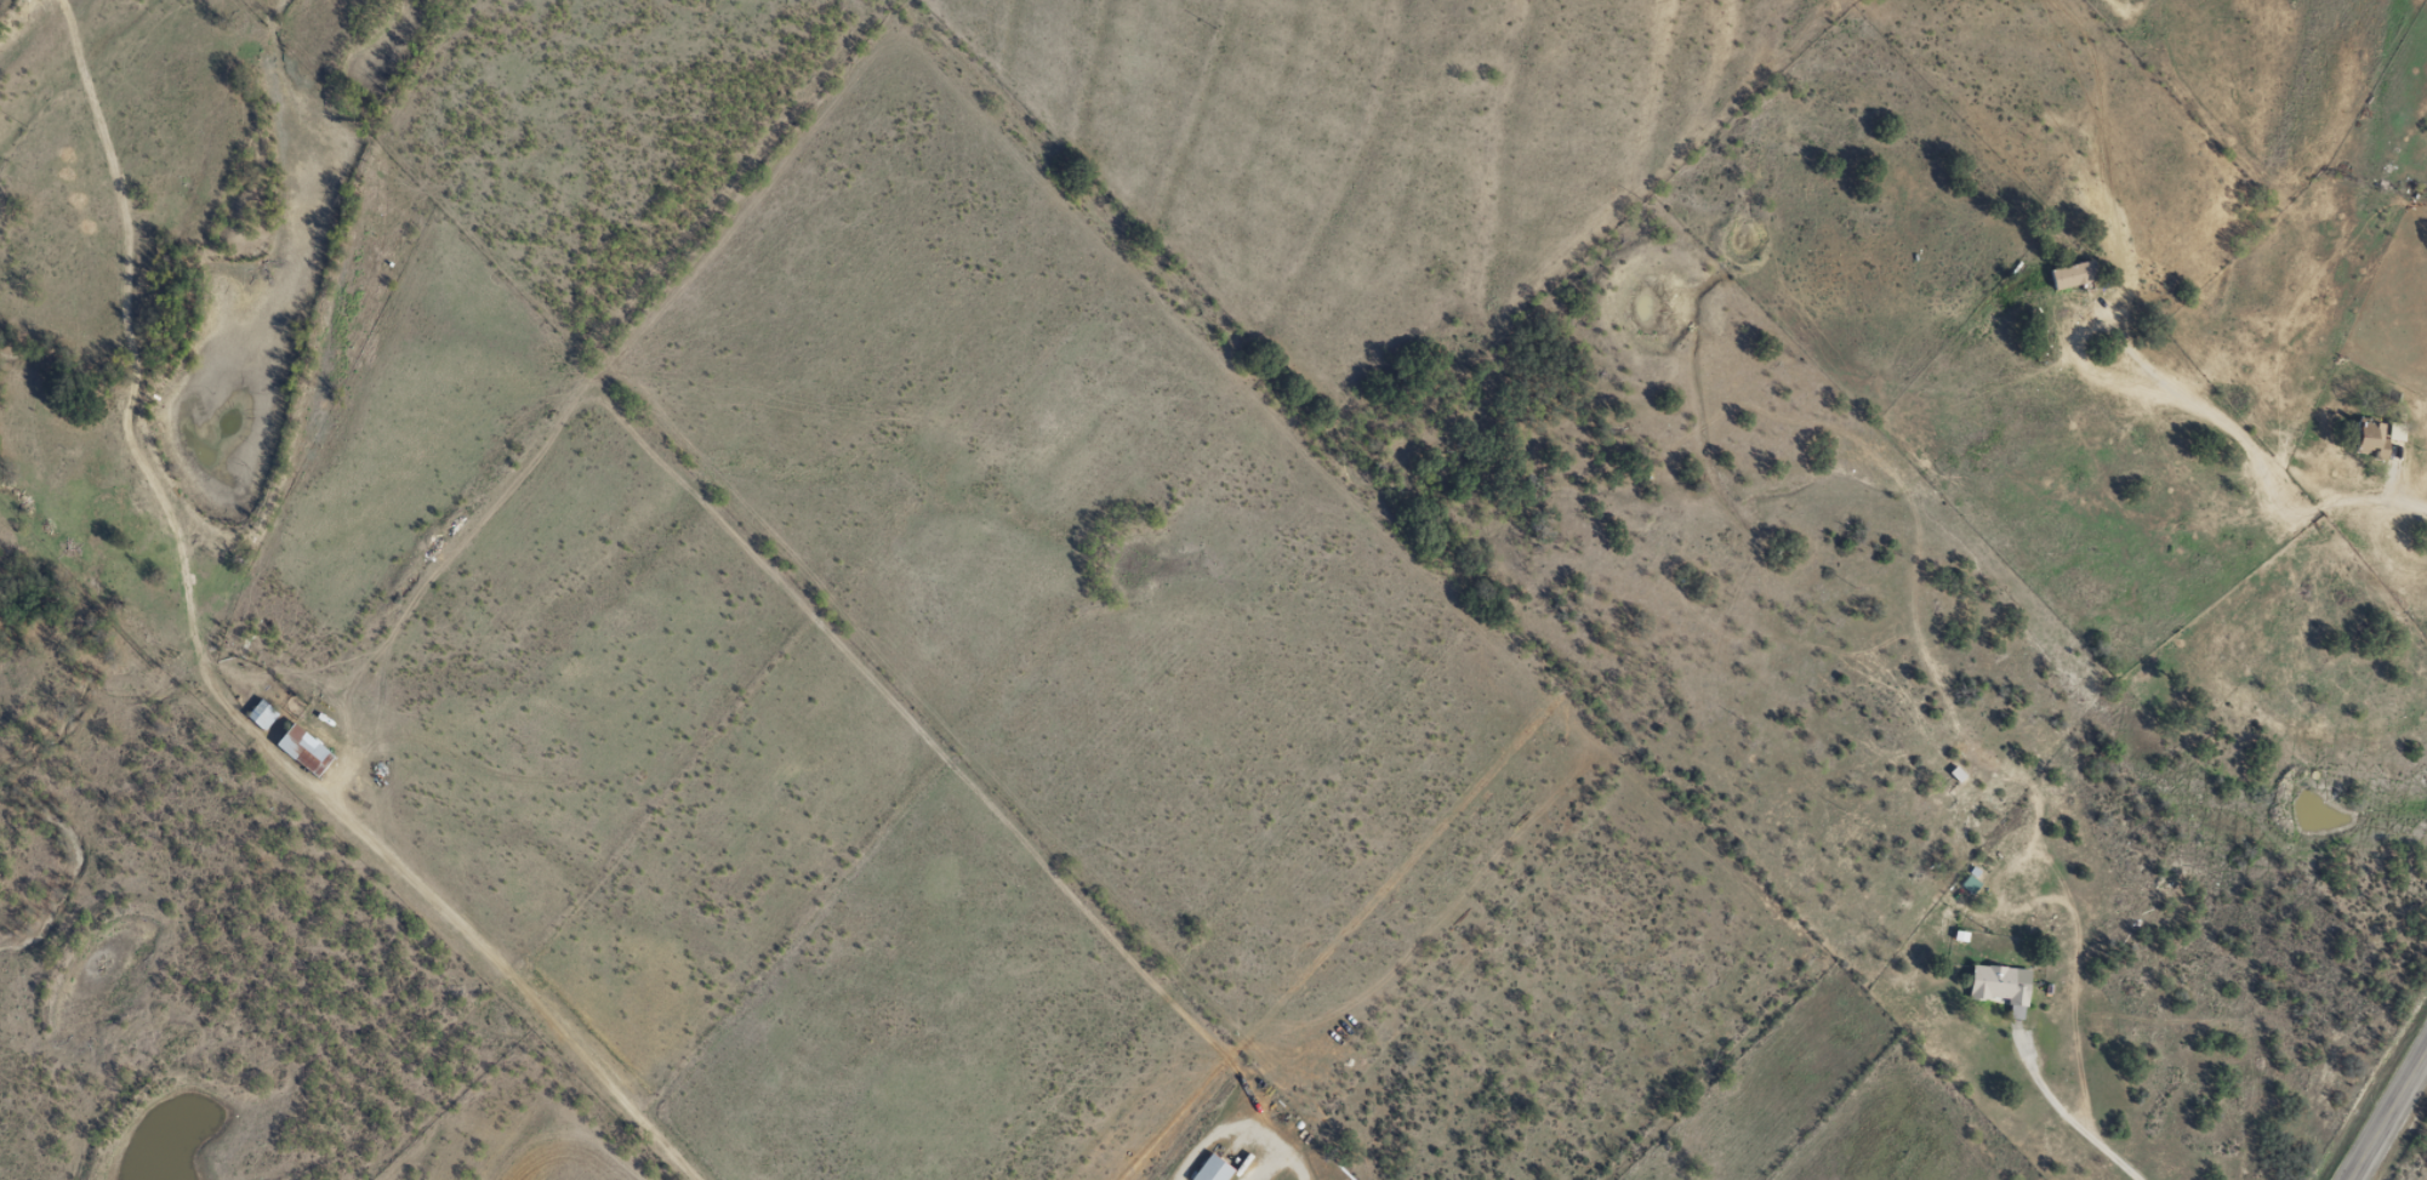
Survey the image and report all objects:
building: (2072, 273)
building: (2376, 438)
building: (261, 714)
building: (304, 749)
building: (1955, 773)
building: (2000, 986)
road: (2386, 1113)
crop: (579, 1156)
building: (1212, 1169)

